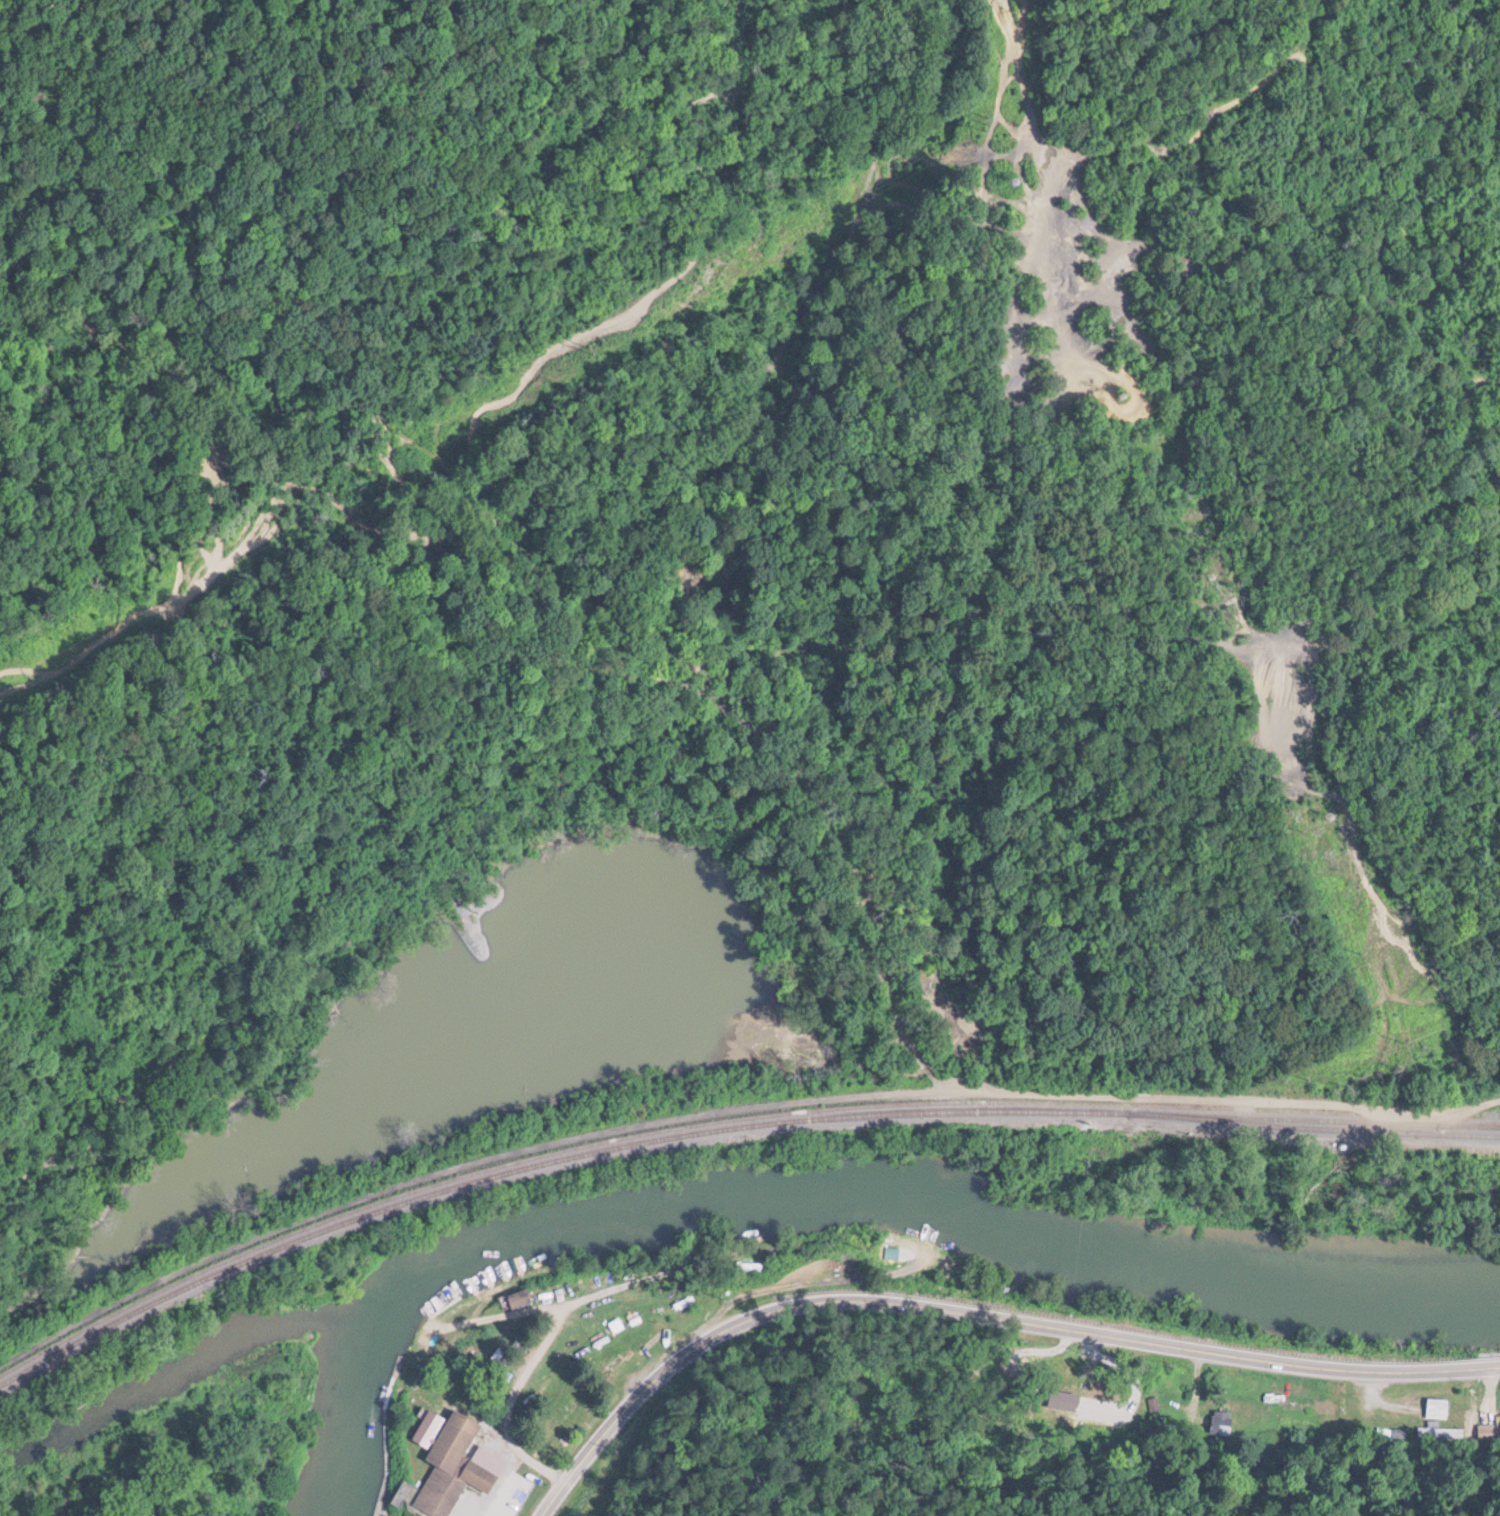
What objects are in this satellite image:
power tower: (1013, 181)
power tower: (1126, 391)
power tower: (1219, 572)
road: (749, 574)
power tower: (1333, 815)
railway: (1470, 1122)
railway: (1316, 1126)
railway: (725, 1127)
railway: (653, 1130)
river: (815, 1196)
building: (749, 1263)
building: (516, 1299)
road: (977, 1315)
building: (1436, 1407)
building: (1219, 1421)
building: (429, 1427)
building: (1437, 1431)
building: (453, 1466)

